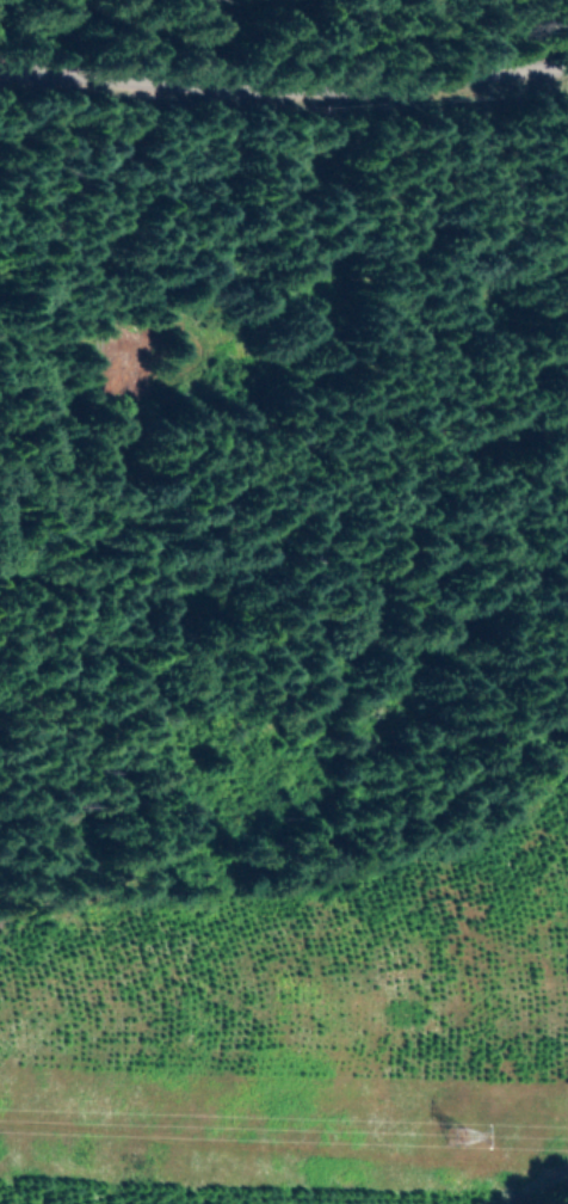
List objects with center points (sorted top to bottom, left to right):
road: (461, 38)
road: (113, 47)
road: (283, 88)
road: (128, 363)
road: (67, 364)
power tower: (455, 1139)

